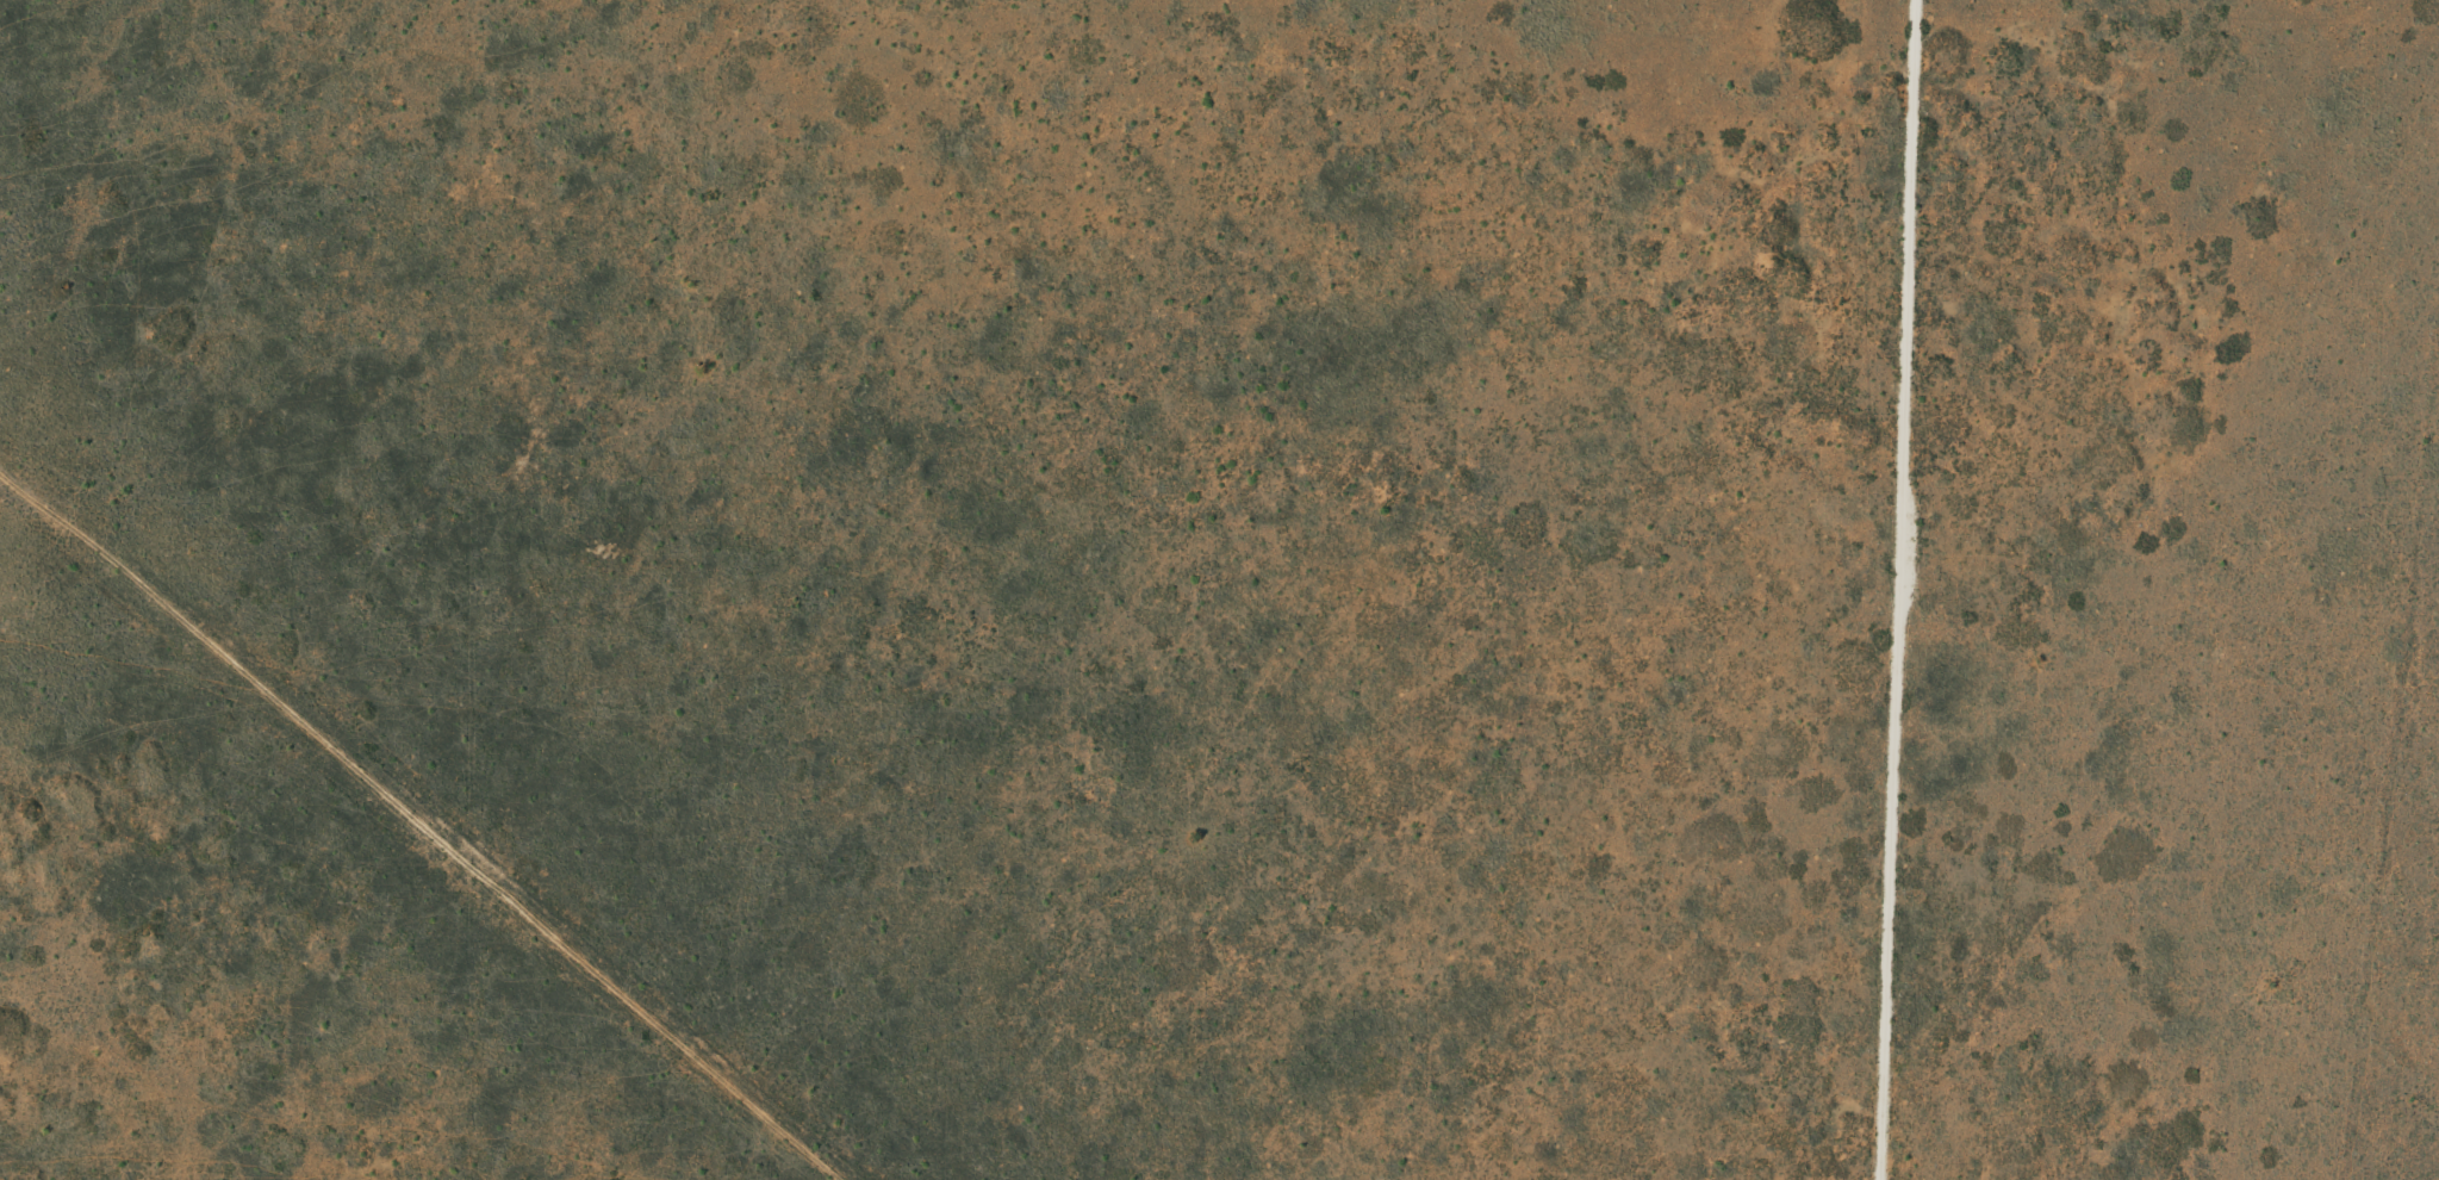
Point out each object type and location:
road: (2429, 1150)

